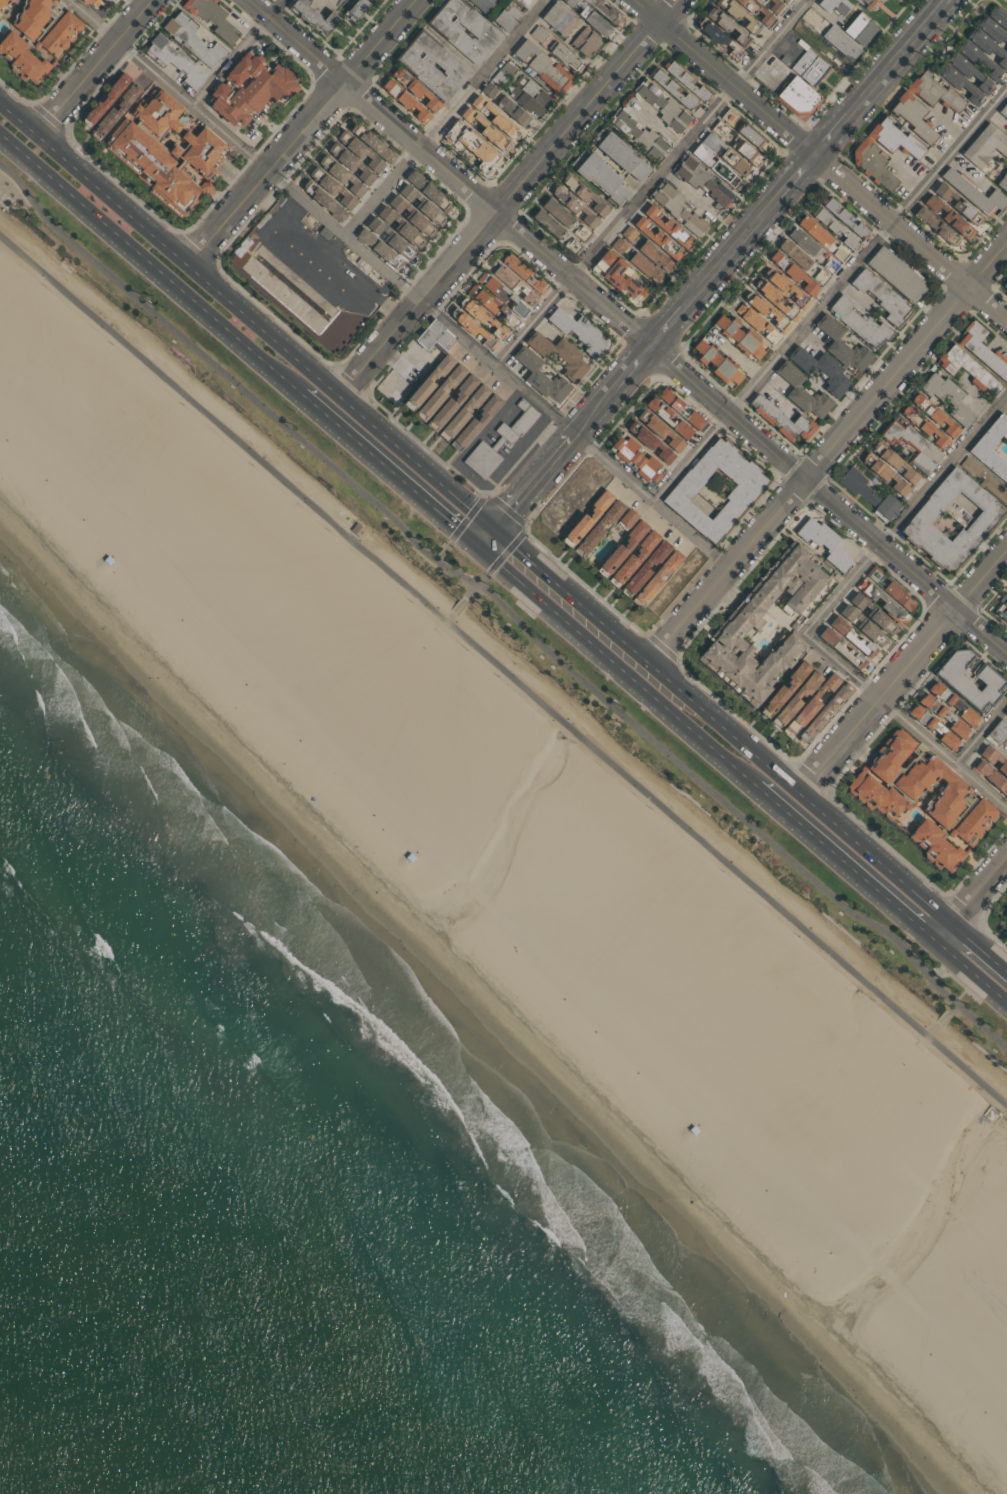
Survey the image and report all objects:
building: (107, 0)
building: (763, 0)
building: (759, 1)
building: (785, 1)
building: (2, 2)
building: (522, 2)
building: (93, 3)
building: (865, 3)
building: (483, 5)
building: (832, 6)
building: (356, 8)
building: (775, 8)
building: (601, 12)
building: (735, 14)
building: (764, 14)
building: (507, 17)
building: (313, 18)
building: (212, 19)
building: (557, 19)
building: (998, 19)
building: (29, 20)
building: (598, 23)
building: (725, 26)
building: (464, 29)
building: (858, 30)
building: (990, 31)
building: (540, 32)
building: (58, 34)
building: (192, 41)
building: (585, 42)
building: (839, 42)
building: (720, 43)
building: (986, 47)
building: (1006, 51)
road: (238, 53)
building: (565, 54)
building: (976, 59)
building: (21, 60)
building: (174, 60)
road: (98, 64)
building: (541, 66)
building: (432, 67)
building: (809, 67)
building: (966, 71)
building: (502, 74)
building: (686, 82)
building: (956, 82)
building: (671, 90)
building: (250, 91)
building: (415, 91)
building: (932, 91)
building: (528, 95)
building: (796, 95)
building: (104, 100)
building: (405, 102)
building: (660, 106)
building: (114, 110)
building: (514, 110)
building: (1003, 110)
building: (730, 116)
building: (911, 116)
building: (492, 117)
road: (448, 119)
road: (304, 128)
building: (720, 128)
building: (482, 129)
building: (639, 137)
building: (754, 137)
building: (891, 138)
building: (370, 144)
building: (470, 145)
building: (167, 148)
building: (985, 148)
building: (747, 151)
building: (725, 153)
building: (357, 154)
building: (624, 156)
road: (819, 161)
building: (873, 165)
building: (714, 166)
building: (349, 167)
building: (338, 178)
building: (600, 180)
building: (701, 181)
road: (654, 183)
building: (1003, 184)
building: (330, 190)
building: (426, 192)
building: (971, 192)
road: (512, 194)
building: (583, 195)
building: (322, 202)
building: (956, 205)
building: (421, 206)
building: (574, 206)
building: (676, 209)
building: (558, 211)
building: (843, 217)
building: (947, 217)
building: (410, 219)
building: (548, 222)
building: (934, 227)
building: (835, 228)
building: (400, 229)
building: (668, 229)
building: (815, 230)
building: (583, 233)
building: (630, 233)
building: (324, 234)
building: (389, 240)
building: (658, 240)
building: (804, 240)
building: (574, 244)
building: (621, 245)
building: (378, 250)
building: (795, 253)
building: (656, 255)
road: (723, 260)
road: (148, 261)
building: (362, 265)
building: (646, 266)
building: (524, 273)
building: (792, 274)
building: (896, 275)
building: (619, 276)
road: (400, 283)
building: (514, 283)
building: (1005, 284)
building: (783, 288)
building: (284, 293)
building: (503, 293)
building: (879, 296)
road: (830, 297)
building: (775, 303)
building: (495, 304)
road: (249, 306)
building: (763, 313)
building: (483, 317)
building: (857, 323)
building: (756, 324)
building: (473, 328)
road: (626, 329)
building: (577, 330)
building: (435, 336)
building: (737, 338)
building: (841, 347)
building: (982, 351)
building: (559, 354)
building: (717, 363)
building: (966, 368)
building: (819, 370)
building: (542, 377)
building: (431, 381)
building: (442, 391)
building: (801, 395)
building: (946, 398)
building: (454, 401)
building: (680, 407)
building: (465, 411)
building: (933, 416)
building: (668, 418)
building: (780, 419)
building: (477, 422)
building: (924, 428)
building: (658, 429)
building: (648, 440)
building: (500, 441)
building: (908, 446)
building: (994, 448)
road: (828, 450)
building: (636, 460)
building: (893, 462)
road: (388, 467)
building: (884, 475)
building: (984, 478)
building: (715, 491)
building: (867, 496)
building: (628, 517)
road: (906, 517)
building: (147, 519)
building: (587, 520)
building: (950, 521)
traffic signals: (500, 522)
building: (599, 529)
building: (360, 530)
road: (489, 533)
building: (821, 543)
road: (447, 544)
traffic signals: (478, 545)
building: (622, 549)
road: (535, 556)
building: (632, 561)
building: (644, 570)
road: (488, 573)
road: (516, 576)
building: (658, 578)
building: (889, 589)
road: (462, 602)
building: (879, 602)
road: (503, 605)
building: (1001, 612)
building: (870, 614)
building: (740, 621)
building: (860, 626)
building: (855, 641)
building: (843, 651)
road: (503, 669)
road: (903, 670)
building: (968, 681)
building: (782, 690)
road: (654, 697)
building: (794, 699)
building: (812, 705)
building: (953, 706)
building: (823, 713)
building: (1005, 714)
building: (941, 717)
road: (906, 722)
building: (933, 730)
building: (997, 732)
road: (981, 736)
road: (760, 756)
building: (994, 763)
building: (990, 778)
building: (889, 800)
building: (438, 826)
road: (845, 862)
park: (688, 883)
road: (971, 898)
building: (1005, 919)
road: (979, 943)
road: (971, 969)
building: (720, 1107)

